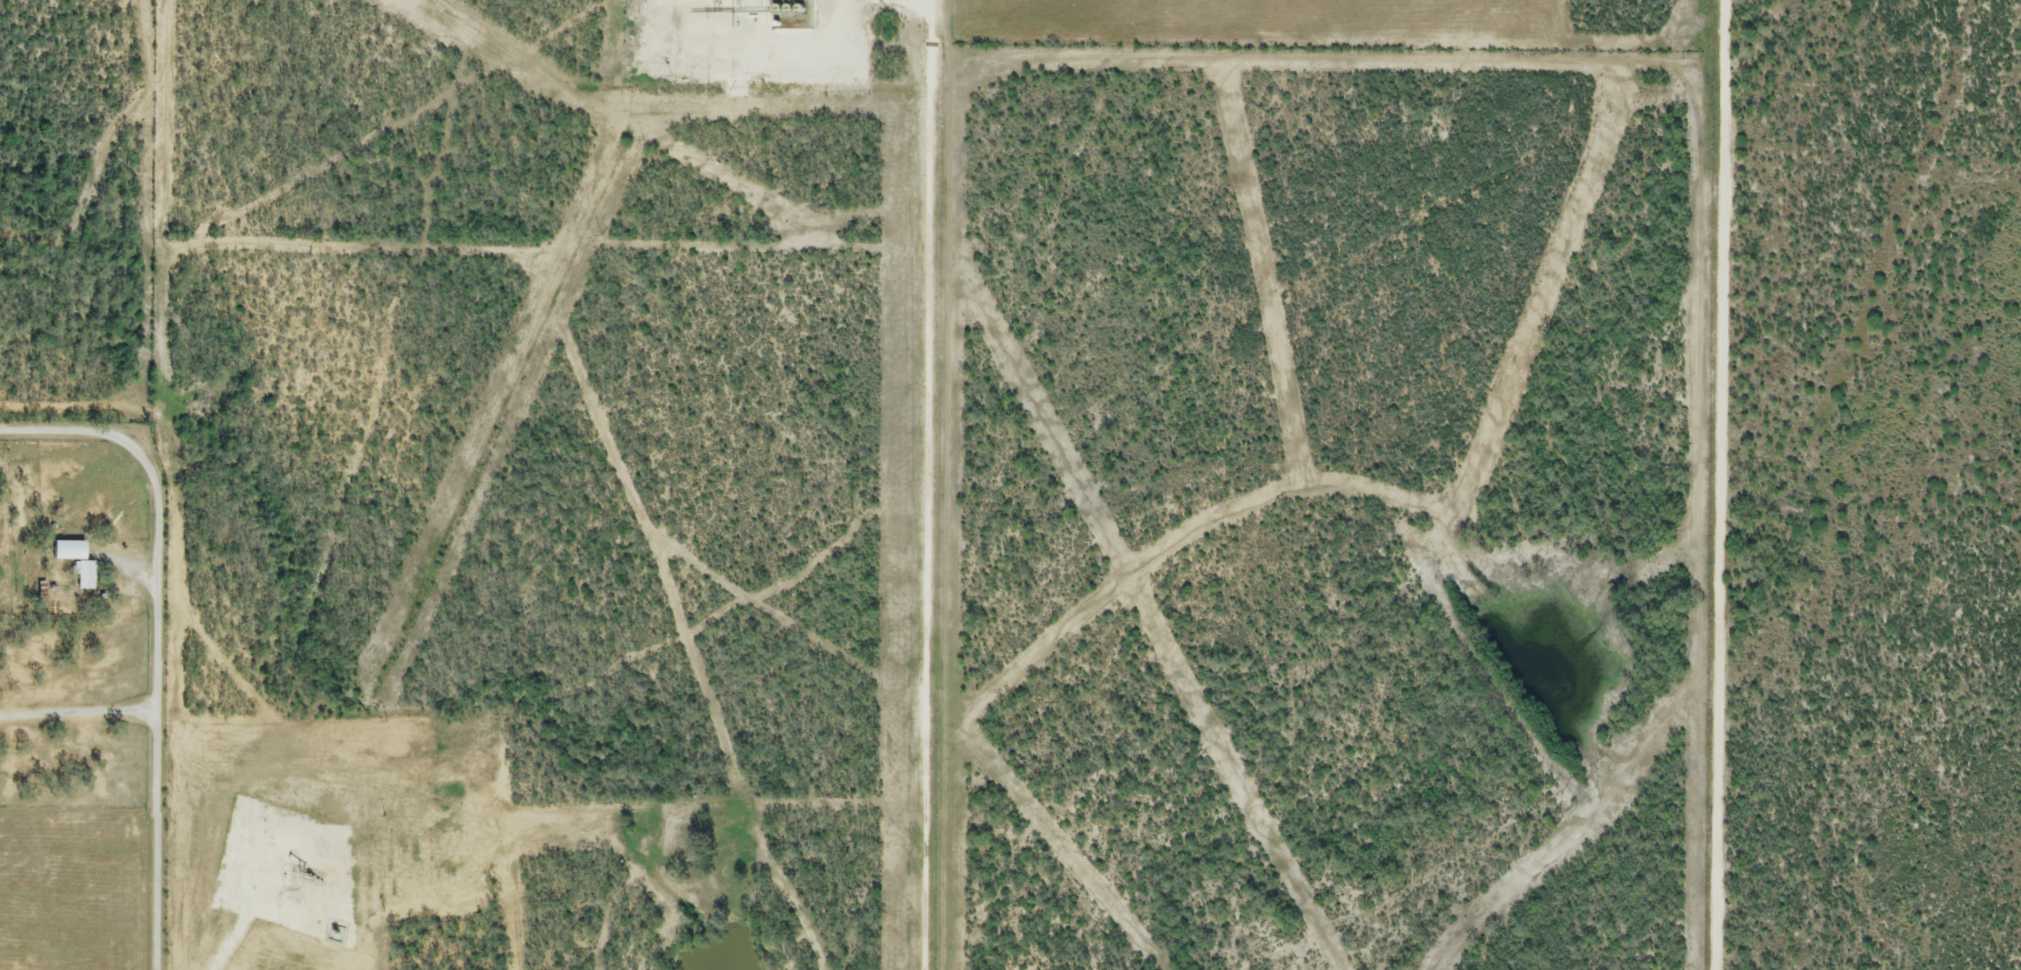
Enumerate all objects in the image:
road: (918, 485)
road: (1714, 485)
building: (63, 555)
building: (86, 577)
road: (160, 635)
road: (79, 714)
road: (244, 930)

